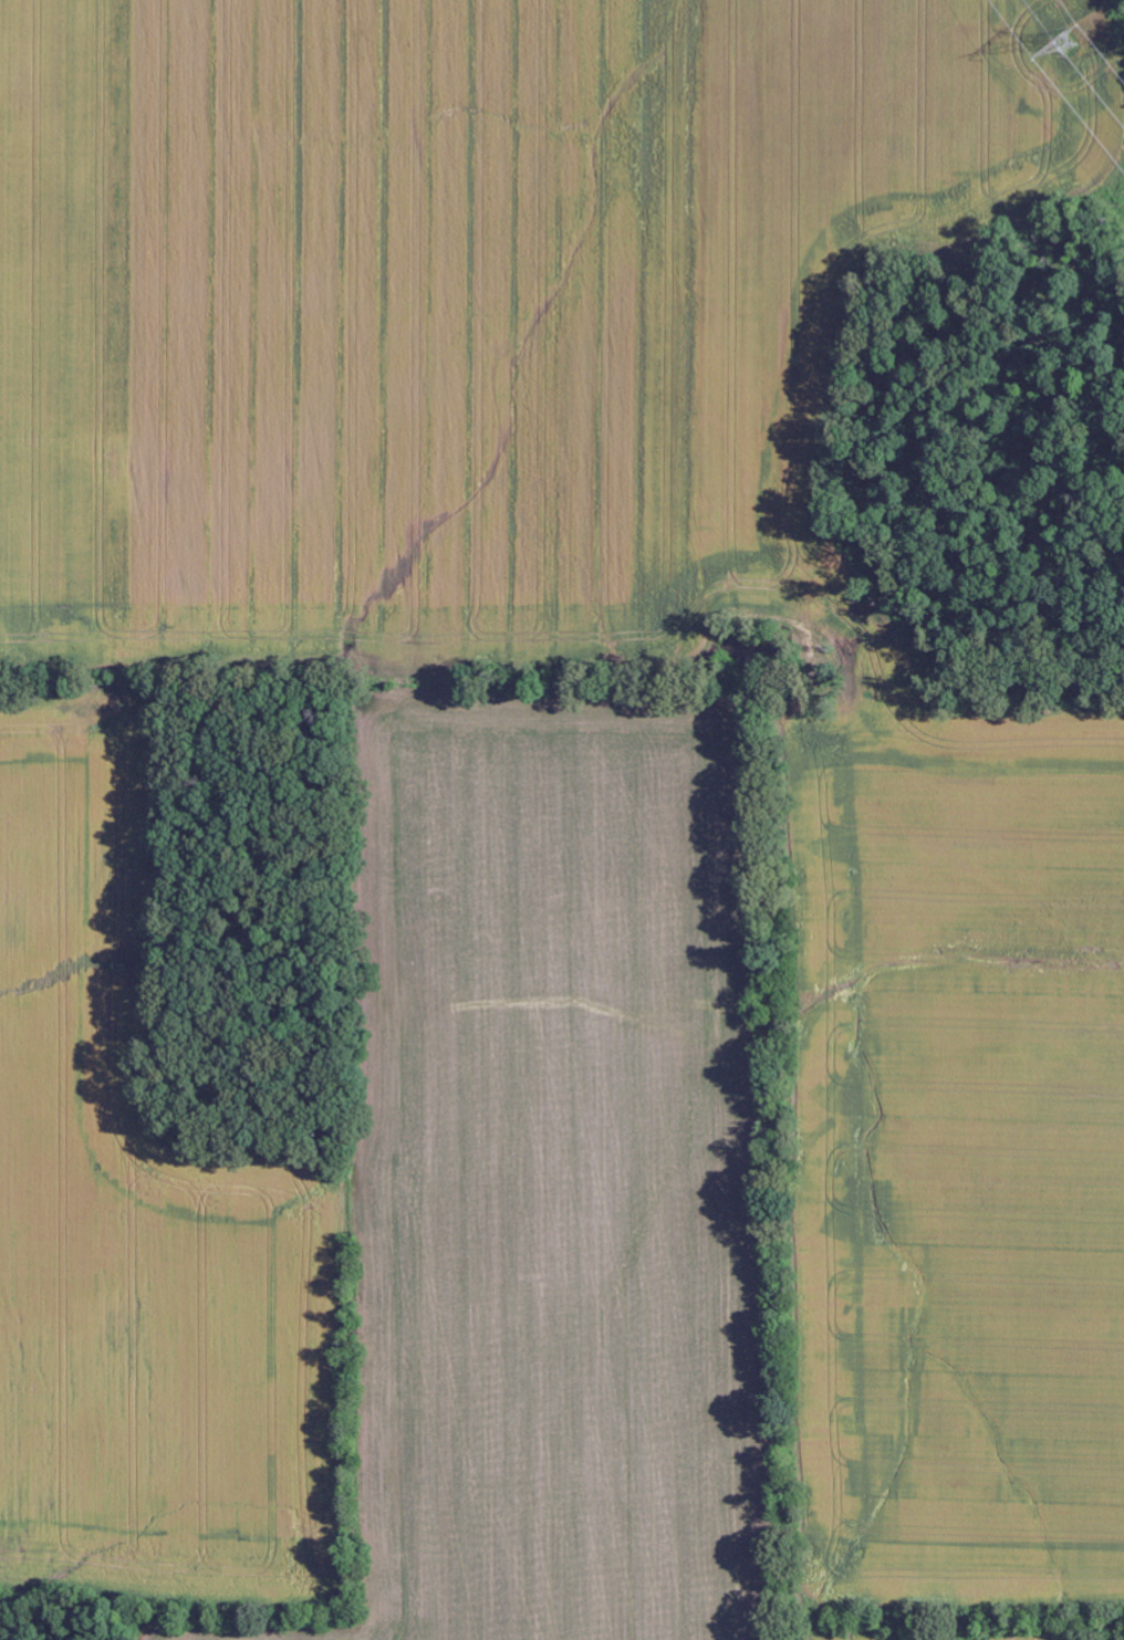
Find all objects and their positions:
power tower: (1066, 43)

